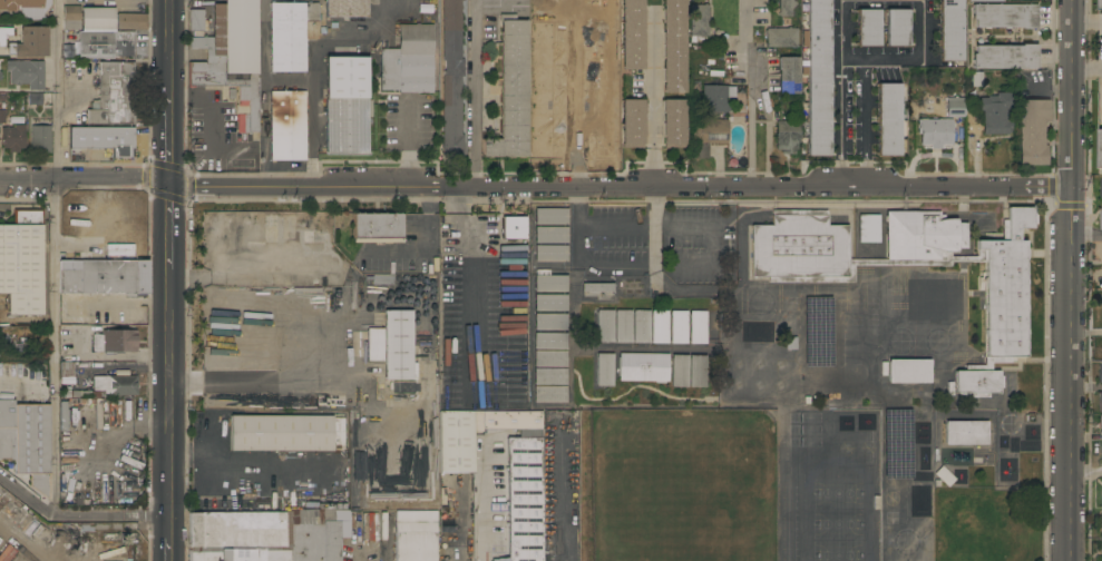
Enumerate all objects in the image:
building: (982, 0)
building: (1100, 4)
building: (27, 8)
building: (788, 8)
building: (348, 9)
road: (408, 9)
building: (71, 18)
building: (1005, 18)
building: (99, 20)
building: (131, 22)
building: (196, 22)
building: (699, 22)
road: (1086, 23)
building: (869, 28)
building: (898, 29)
road: (923, 30)
building: (953, 31)
building: (4, 35)
building: (292, 35)
building: (633, 35)
building: (782, 38)
building: (231, 42)
building: (30, 43)
road: (169, 43)
building: (106, 46)
building: (674, 47)
building: (1004, 57)
road: (312, 60)
building: (409, 61)
road: (1086, 66)
building: (542, 67)
building: (27, 75)
building: (819, 75)
building: (789, 76)
building: (1, 77)
building: (451, 79)
building: (976, 79)
road: (263, 82)
road: (57, 89)
building: (694, 89)
building: (511, 92)
road: (840, 92)
road: (474, 93)
road: (751, 93)
building: (114, 95)
building: (247, 96)
building: (35, 99)
road: (654, 99)
building: (713, 99)
road: (212, 107)
building: (347, 107)
building: (956, 107)
building: (996, 112)
building: (890, 120)
building: (632, 122)
road: (867, 122)
building: (674, 124)
building: (287, 127)
building: (935, 132)
building: (1033, 132)
road: (168, 135)
building: (708, 136)
building: (787, 136)
building: (548, 137)
building: (13, 138)
building: (41, 138)
building: (602, 138)
building: (104, 139)
road: (411, 145)
building: (1100, 149)
road: (84, 177)
traffic signals: (168, 183)
road: (312, 186)
road: (763, 186)
building: (1101, 188)
road: (654, 208)
building: (550, 216)
building: (1101, 220)
building: (377, 227)
building: (514, 228)
building: (869, 228)
road: (168, 232)
building: (321, 234)
building: (550, 235)
road: (1086, 235)
parking lot: (663, 240)
building: (550, 254)
building: (22, 262)
road: (692, 265)
building: (104, 277)
road: (1070, 280)
building: (549, 282)
building: (415, 283)
building: (597, 287)
building: (628, 287)
road: (471, 289)
building: (1005, 295)
building: (935, 299)
building: (550, 303)
building: (550, 322)
building: (605, 326)
building: (623, 326)
building: (642, 326)
building: (660, 327)
building: (679, 327)
building: (698, 327)
road: (1085, 332)
building: (377, 337)
building: (115, 341)
building: (550, 341)
building: (400, 345)
road: (55, 347)
building: (371, 355)
building: (550, 358)
building: (643, 367)
building: (67, 368)
building: (604, 370)
building: (680, 371)
building: (698, 371)
building: (909, 372)
building: (1101, 374)
building: (550, 376)
road: (259, 382)
building: (117, 384)
road: (634, 387)
building: (549, 394)
building: (80, 395)
road: (169, 398)
building: (331, 402)
building: (1101, 403)
building: (514, 405)
building: (507, 421)
building: (1101, 426)
building: (282, 433)
building: (965, 433)
building: (342, 435)
building: (26, 441)
building: (457, 442)
road: (221, 463)
road: (1085, 472)
building: (944, 476)
road: (563, 496)
building: (525, 499)
road: (484, 502)
road: (77, 518)
park: (838, 520)
road: (455, 521)
building: (1100, 524)
building: (236, 531)
building: (312, 535)
building: (417, 537)
road: (169, 539)
railway: (19, 545)
building: (1101, 552)
building: (224, 555)
building: (272, 555)

